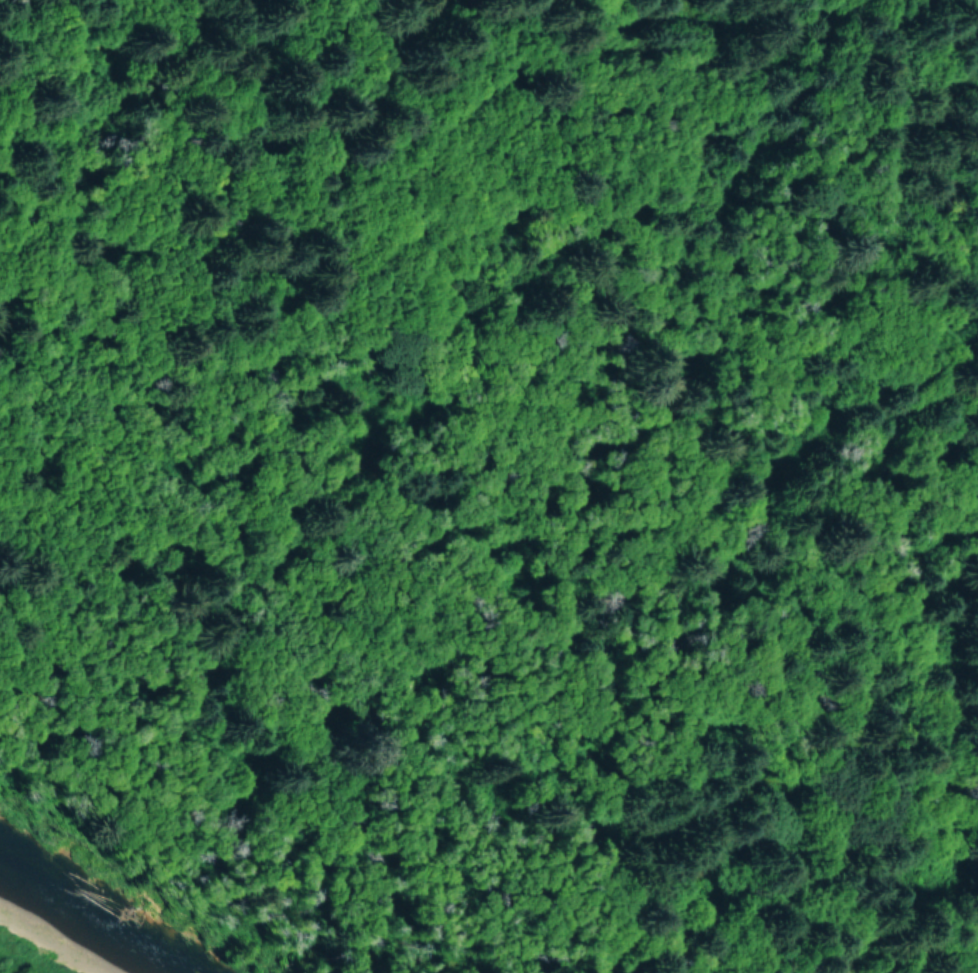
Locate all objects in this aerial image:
river: (75, 919)

